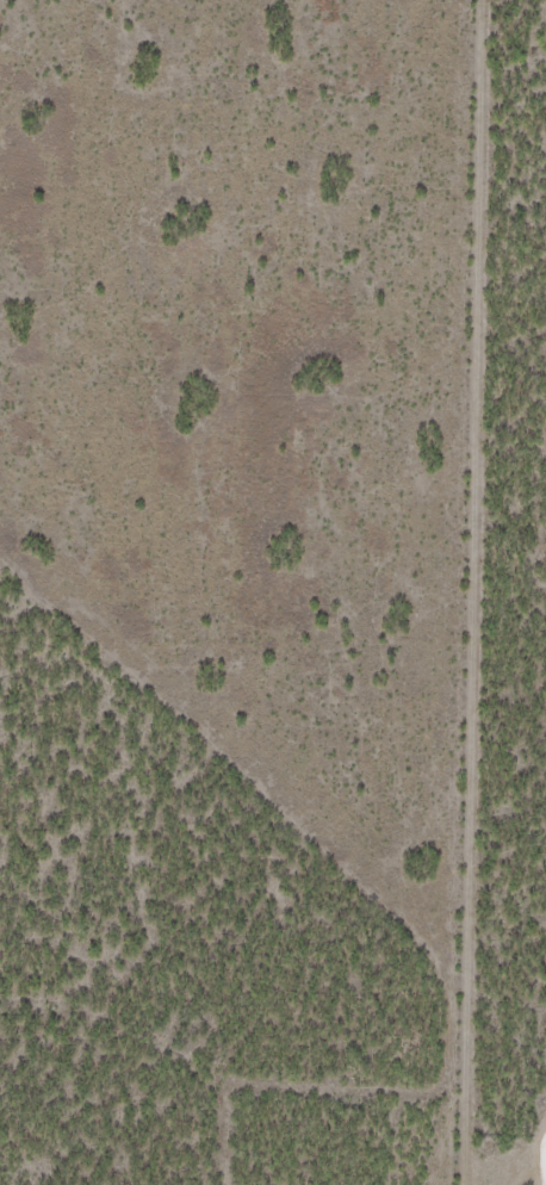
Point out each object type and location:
road: (544, 1149)

